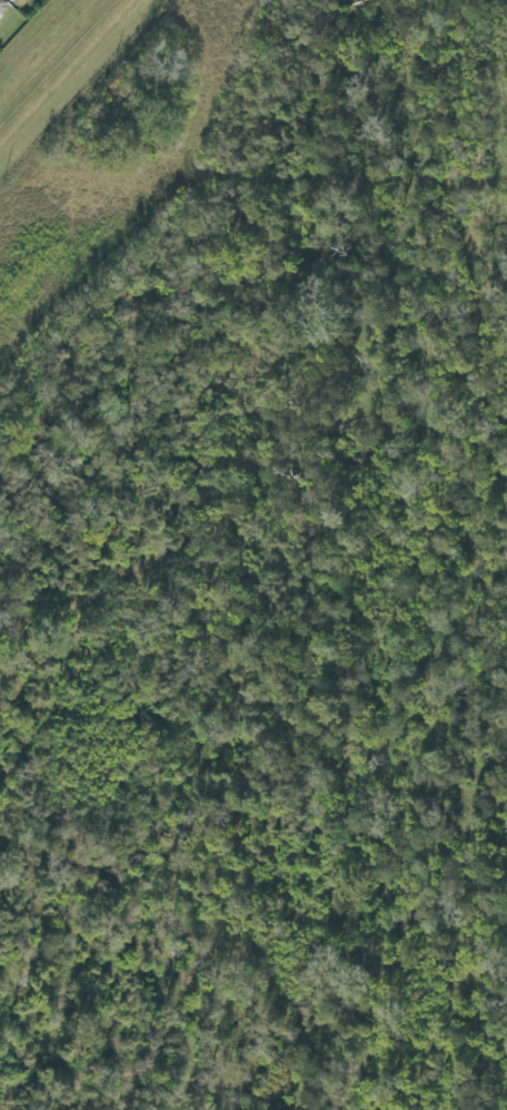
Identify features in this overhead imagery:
building: (11, 1)
building: (2, 7)

